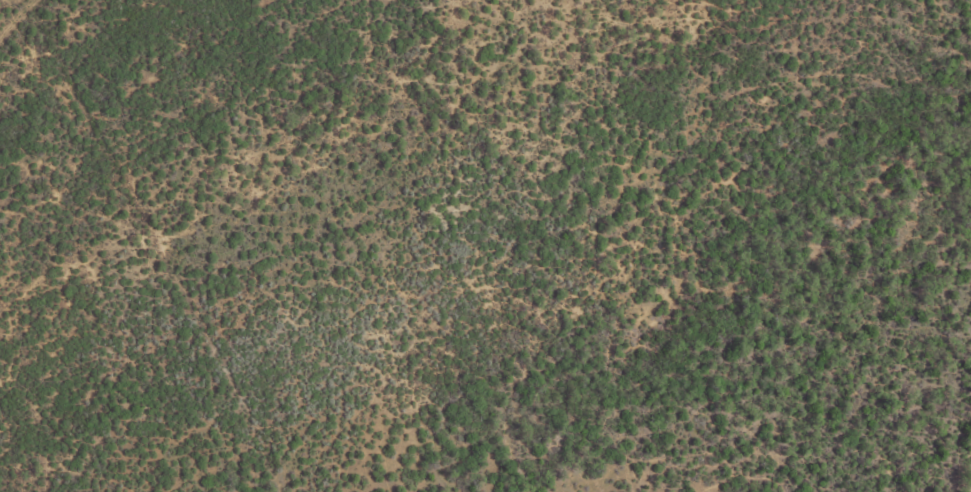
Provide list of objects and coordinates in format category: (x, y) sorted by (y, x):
road: (86, 20)

